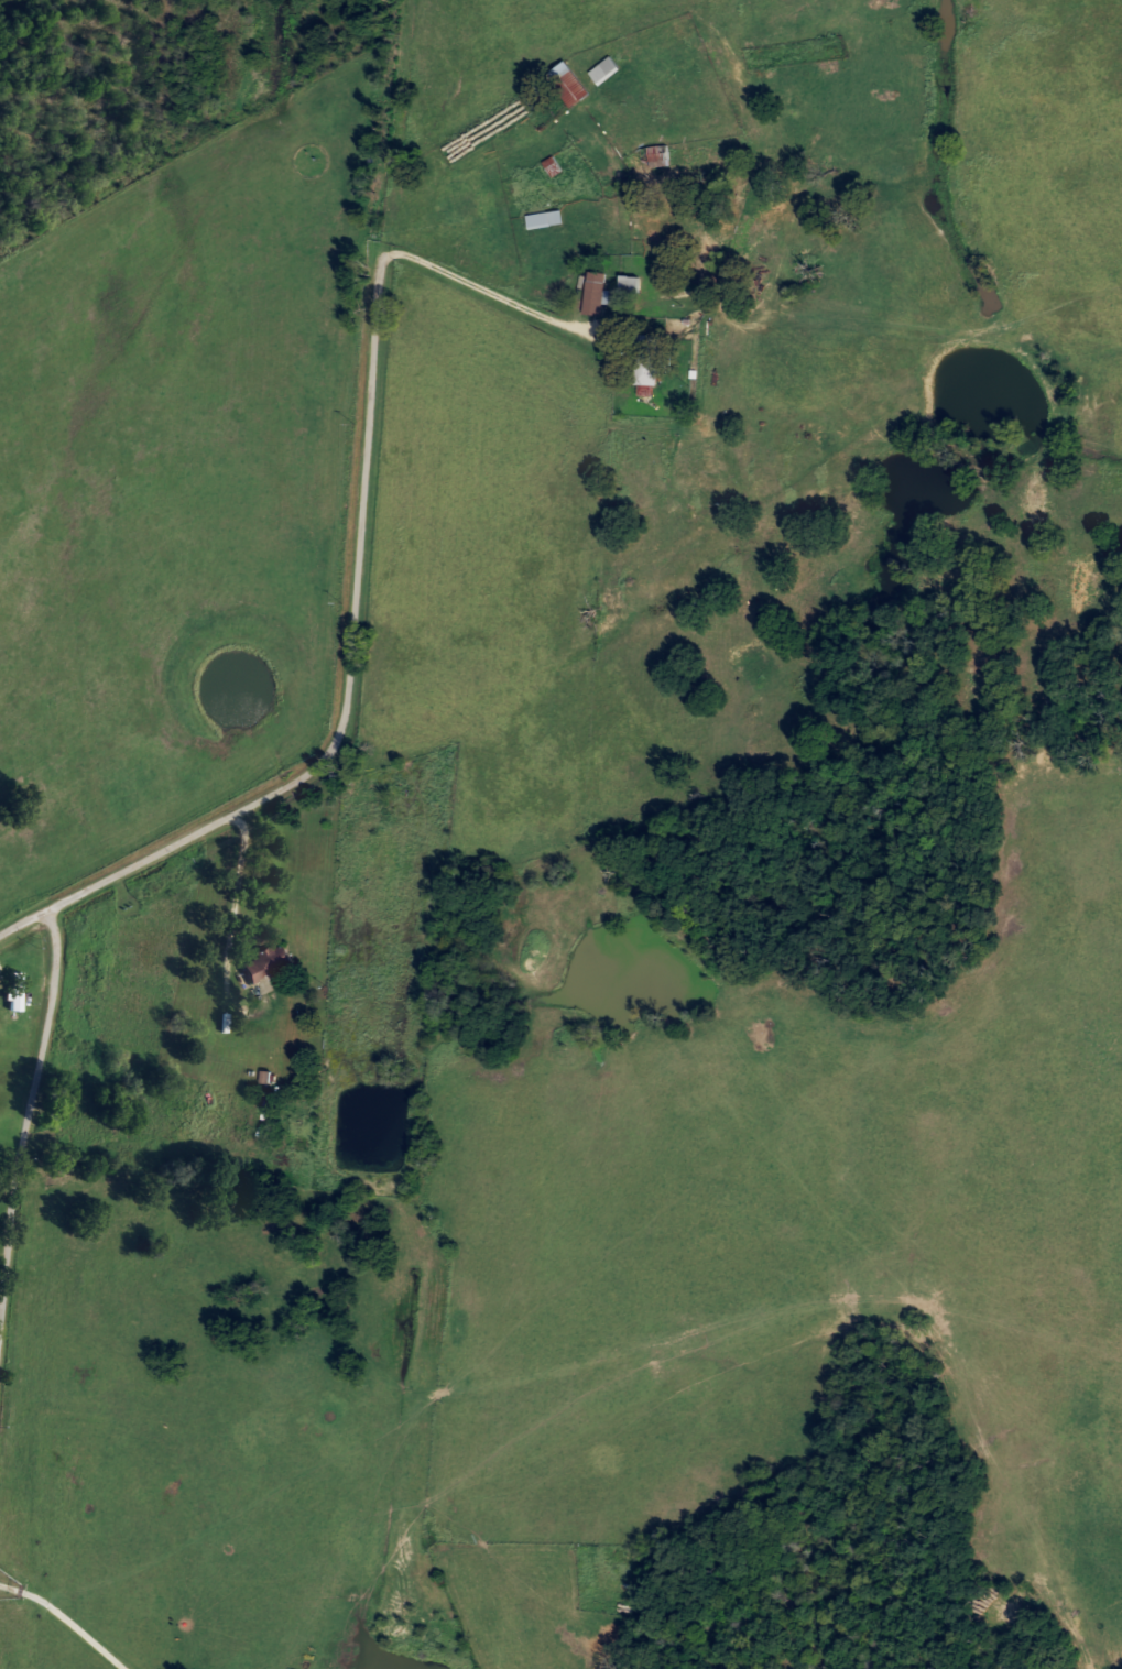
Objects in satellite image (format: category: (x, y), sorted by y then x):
building: (602, 69)
building: (653, 155)
building: (551, 165)
building: (543, 218)
building: (627, 283)
building: (592, 292)
road: (644, 301)
building: (644, 359)
road: (358, 541)
building: (385, 788)
road: (232, 918)
road: (21, 920)
building: (265, 961)
building: (13, 991)
road: (26, 1111)
road: (64, 1623)

